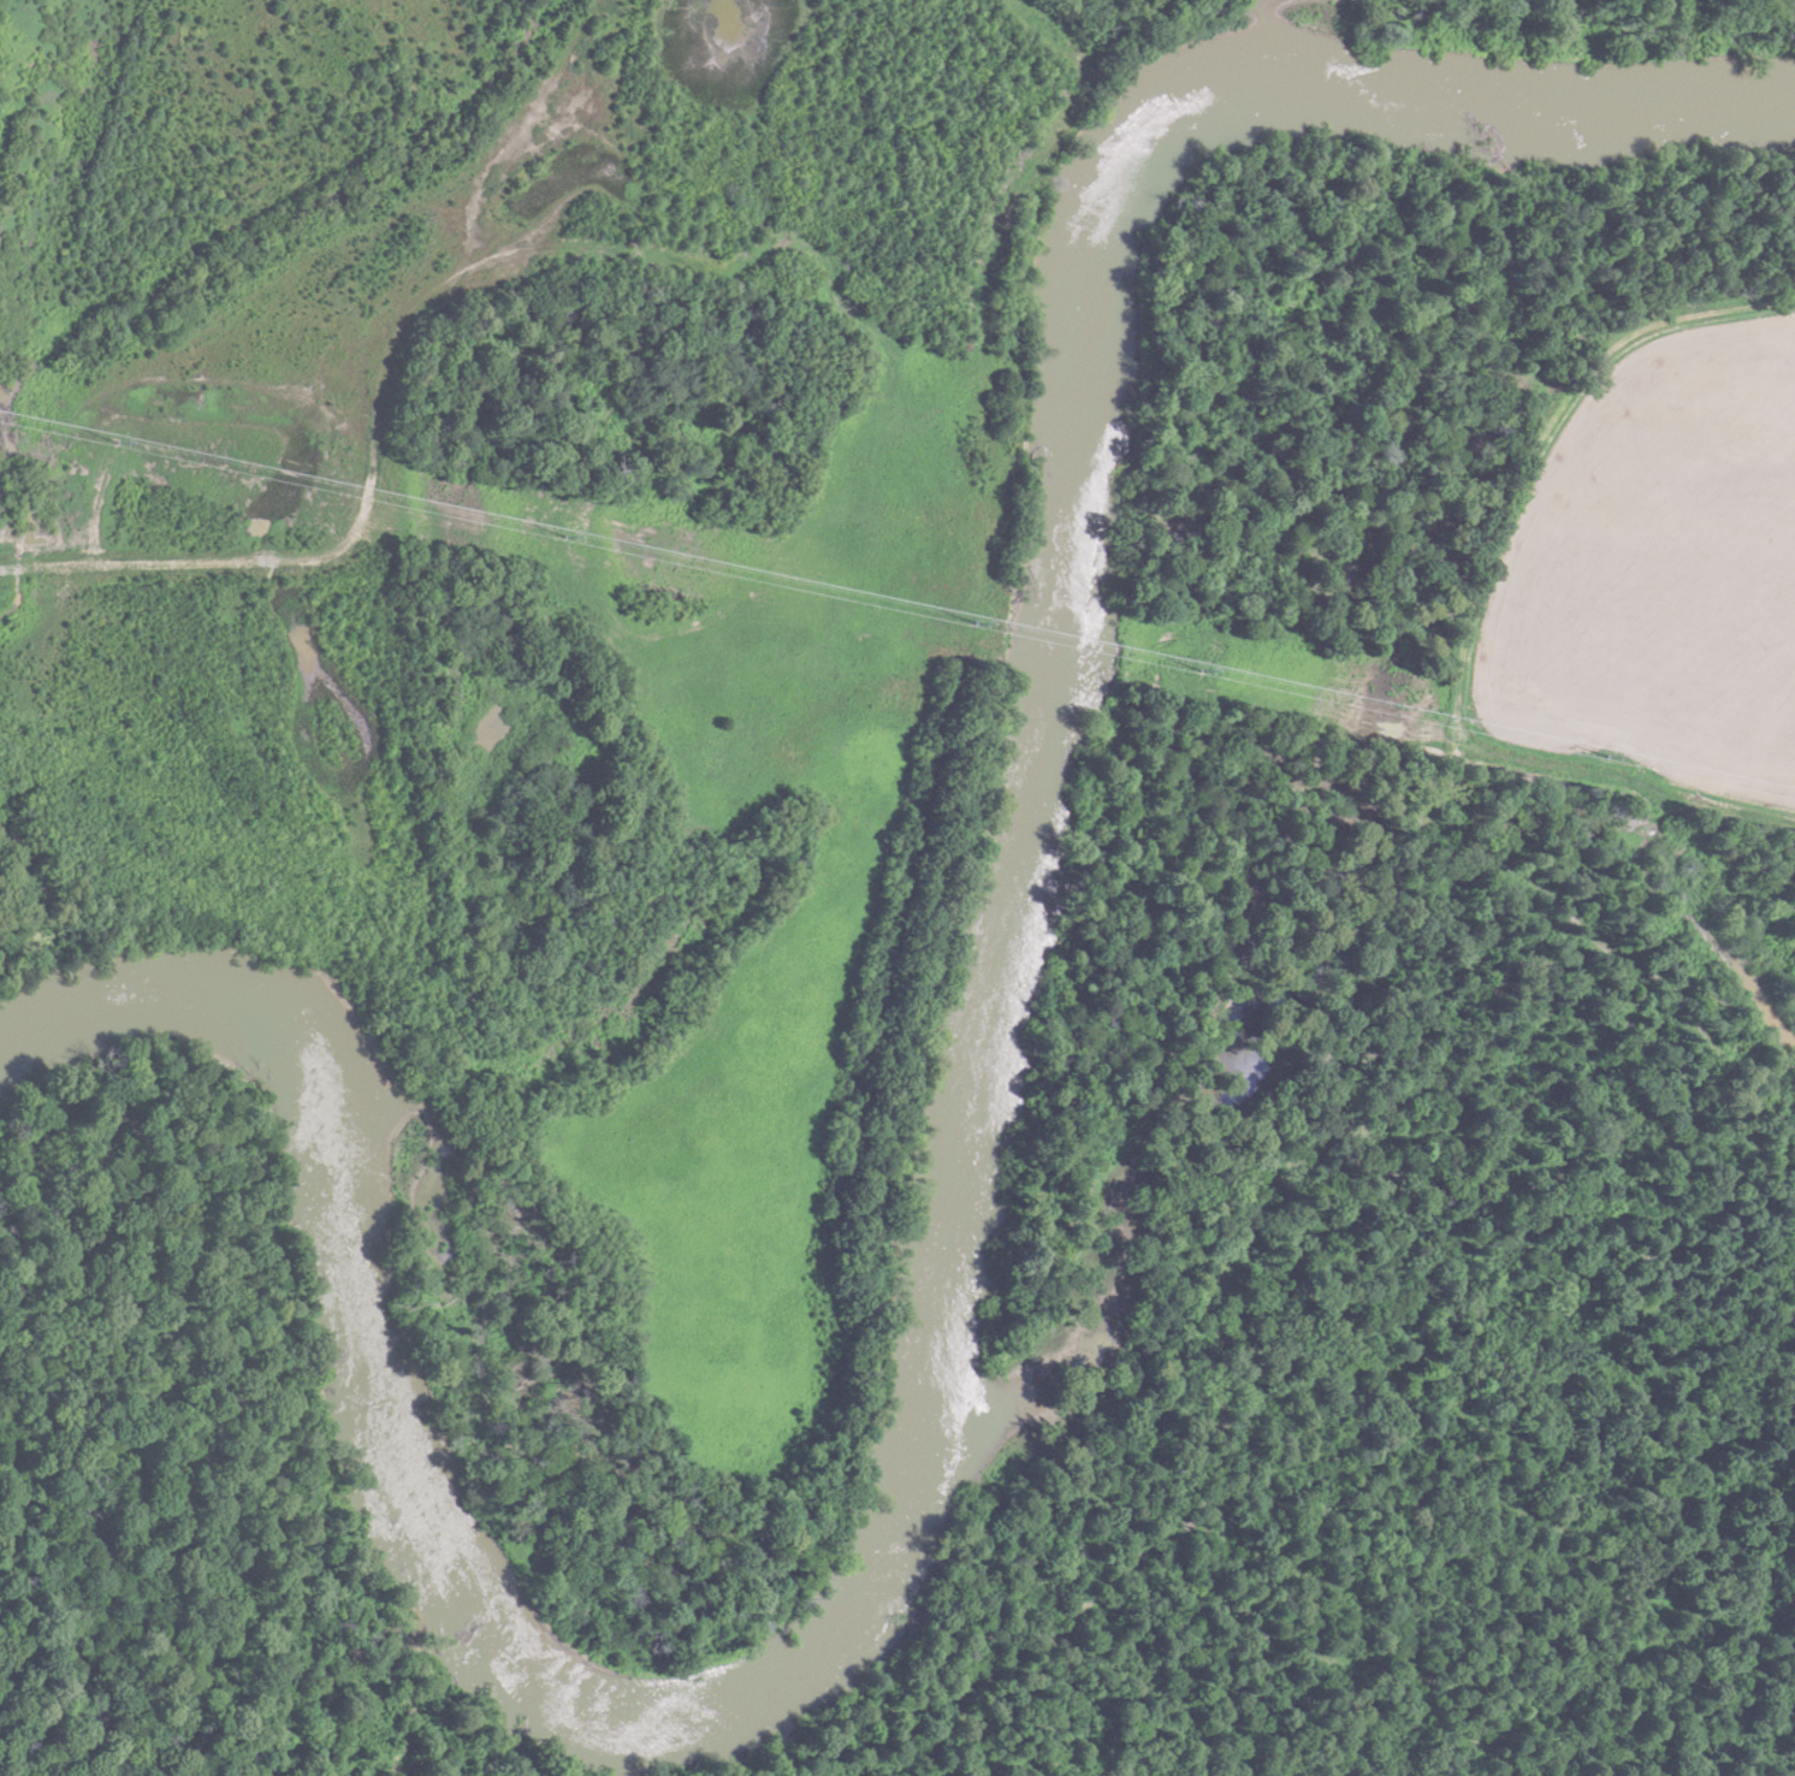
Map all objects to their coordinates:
power tower: (123, 430)
power tower: (570, 529)
power tower: (978, 606)
power tower: (1203, 658)
power tower: (1611, 746)
river: (949, 1194)

